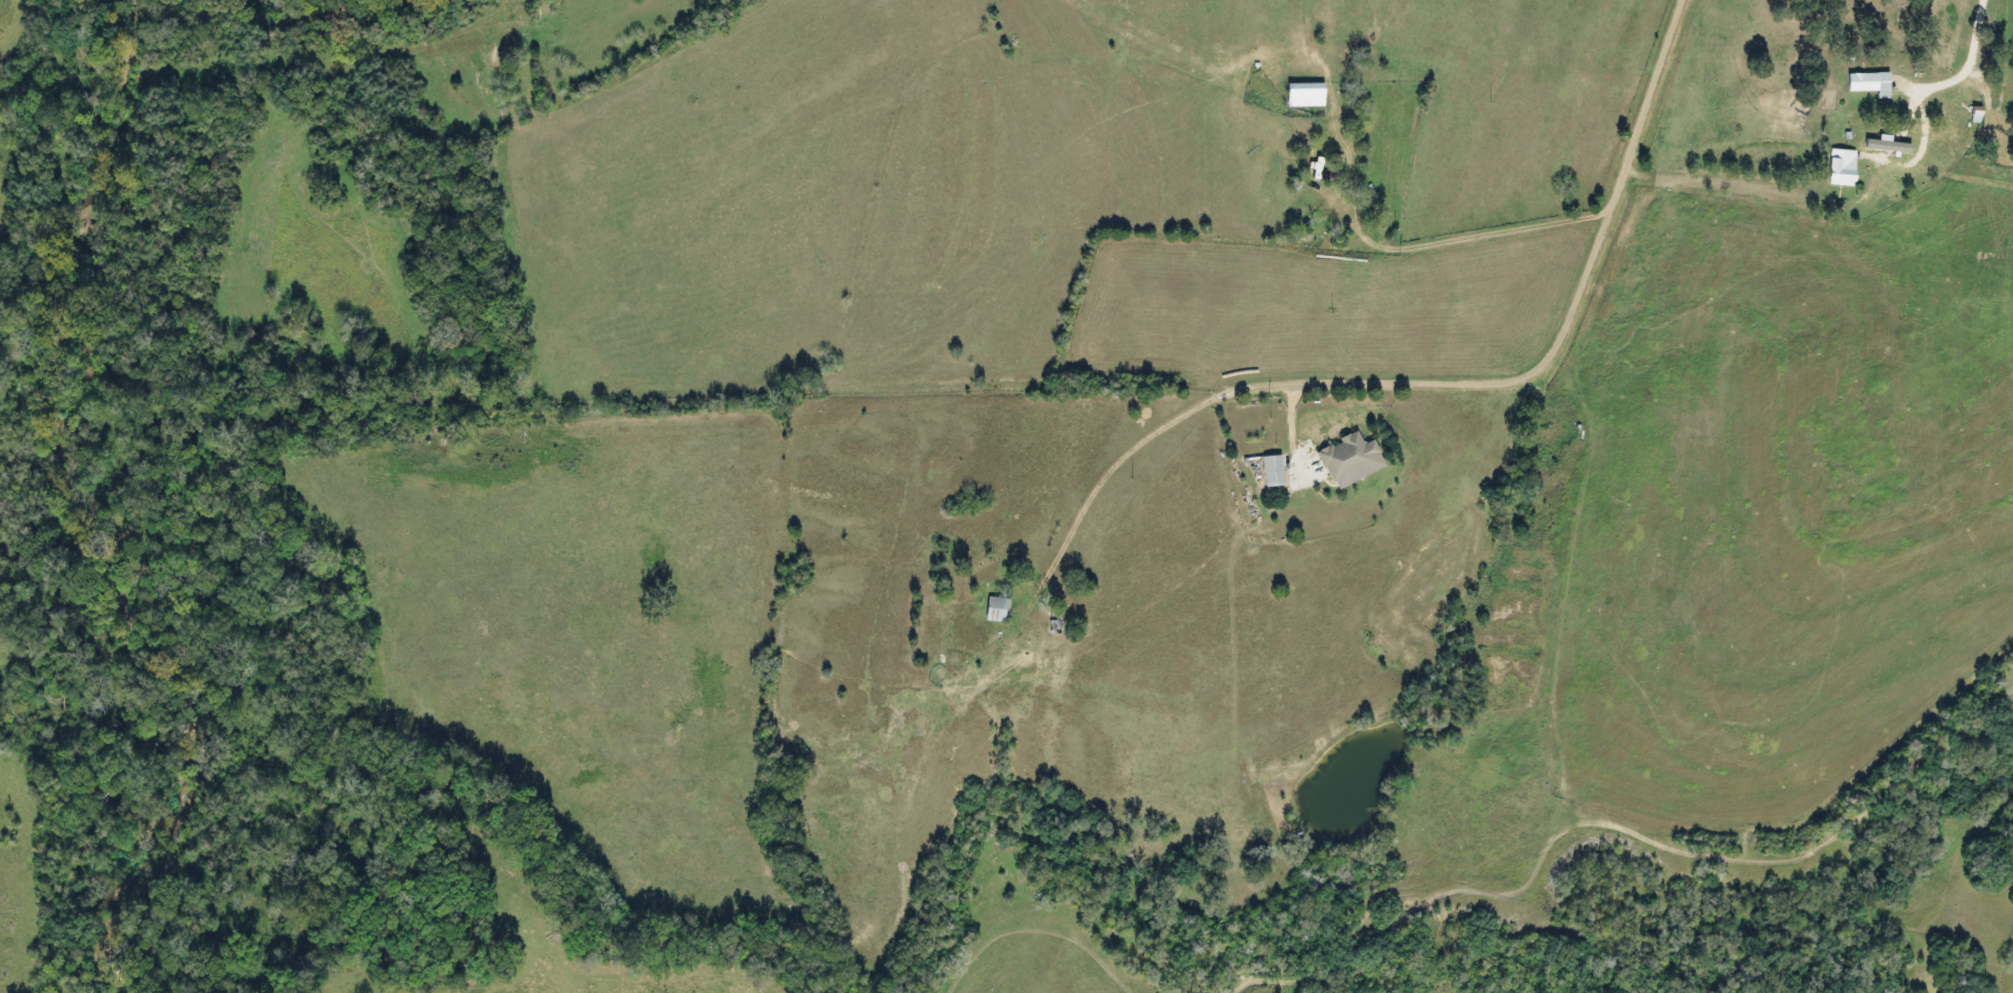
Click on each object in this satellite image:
building: (1871, 82)
building: (1306, 94)
building: (1966, 110)
building: (1843, 167)
building: (1331, 212)
road: (1444, 380)
building: (1344, 457)
building: (1273, 470)
building: (996, 609)
building: (1056, 619)

